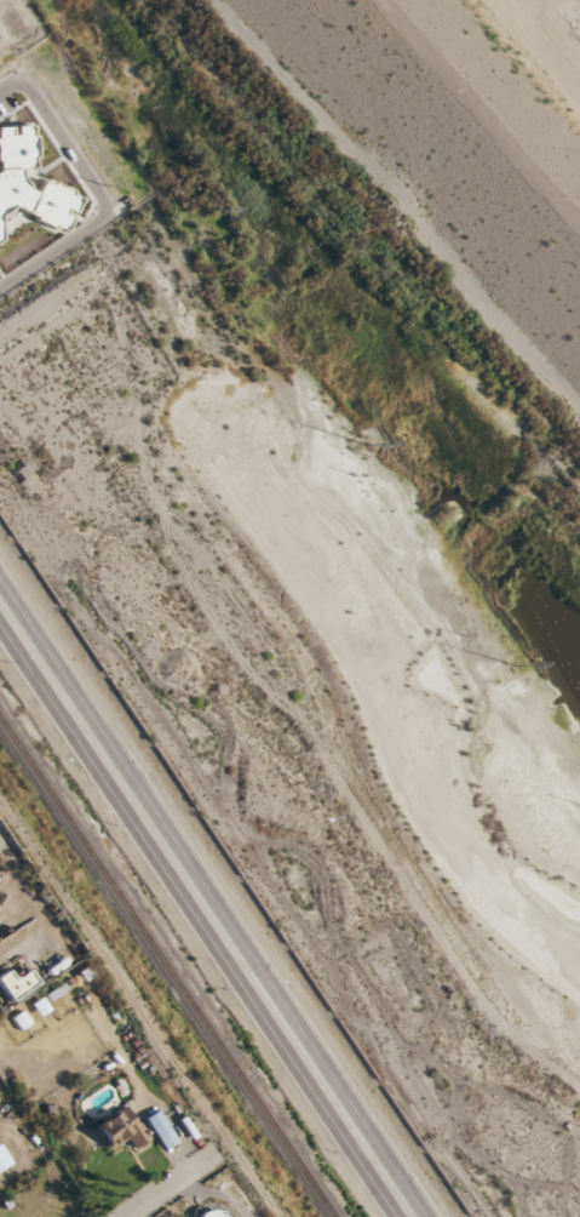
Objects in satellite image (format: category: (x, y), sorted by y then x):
dam: (467, 130)
road: (102, 190)
road: (211, 903)
railway: (167, 967)
building: (119, 1129)
building: (160, 1129)
road: (166, 1184)
building: (211, 1213)

